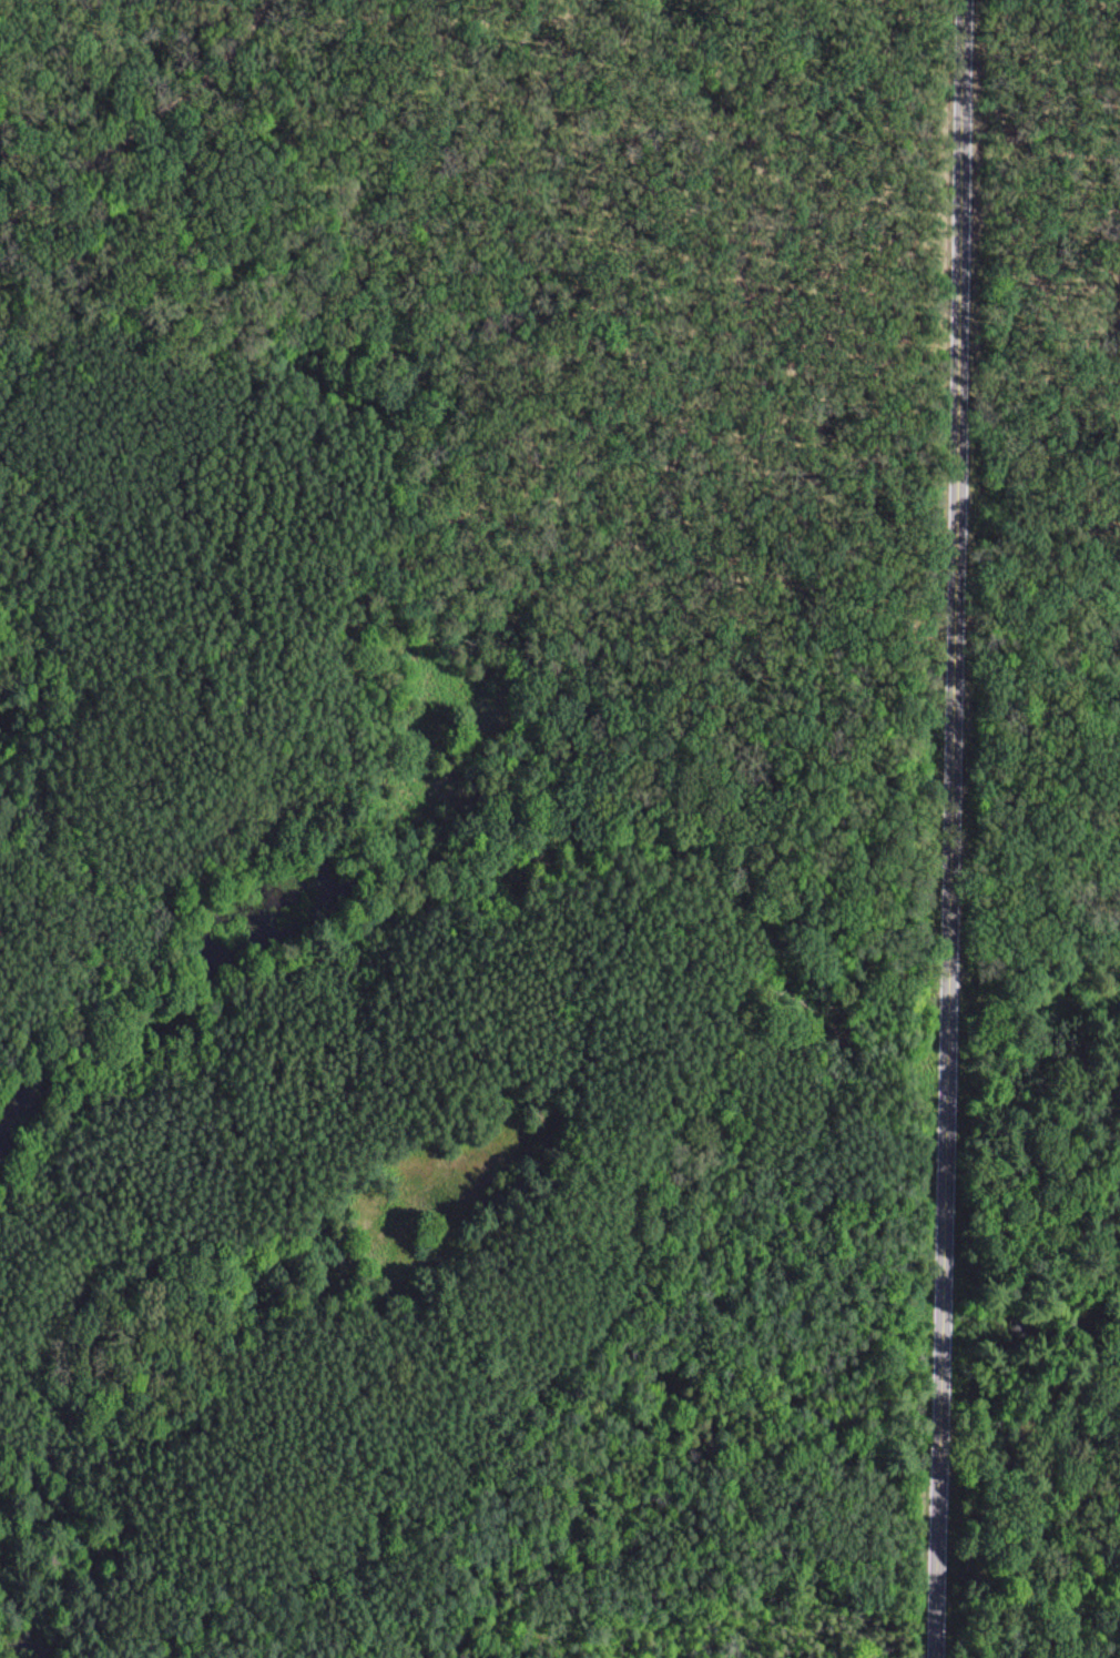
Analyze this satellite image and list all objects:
road: (145, 125)
road: (1038, 163)
road: (949, 651)
road: (941, 1342)
road: (939, 1518)

